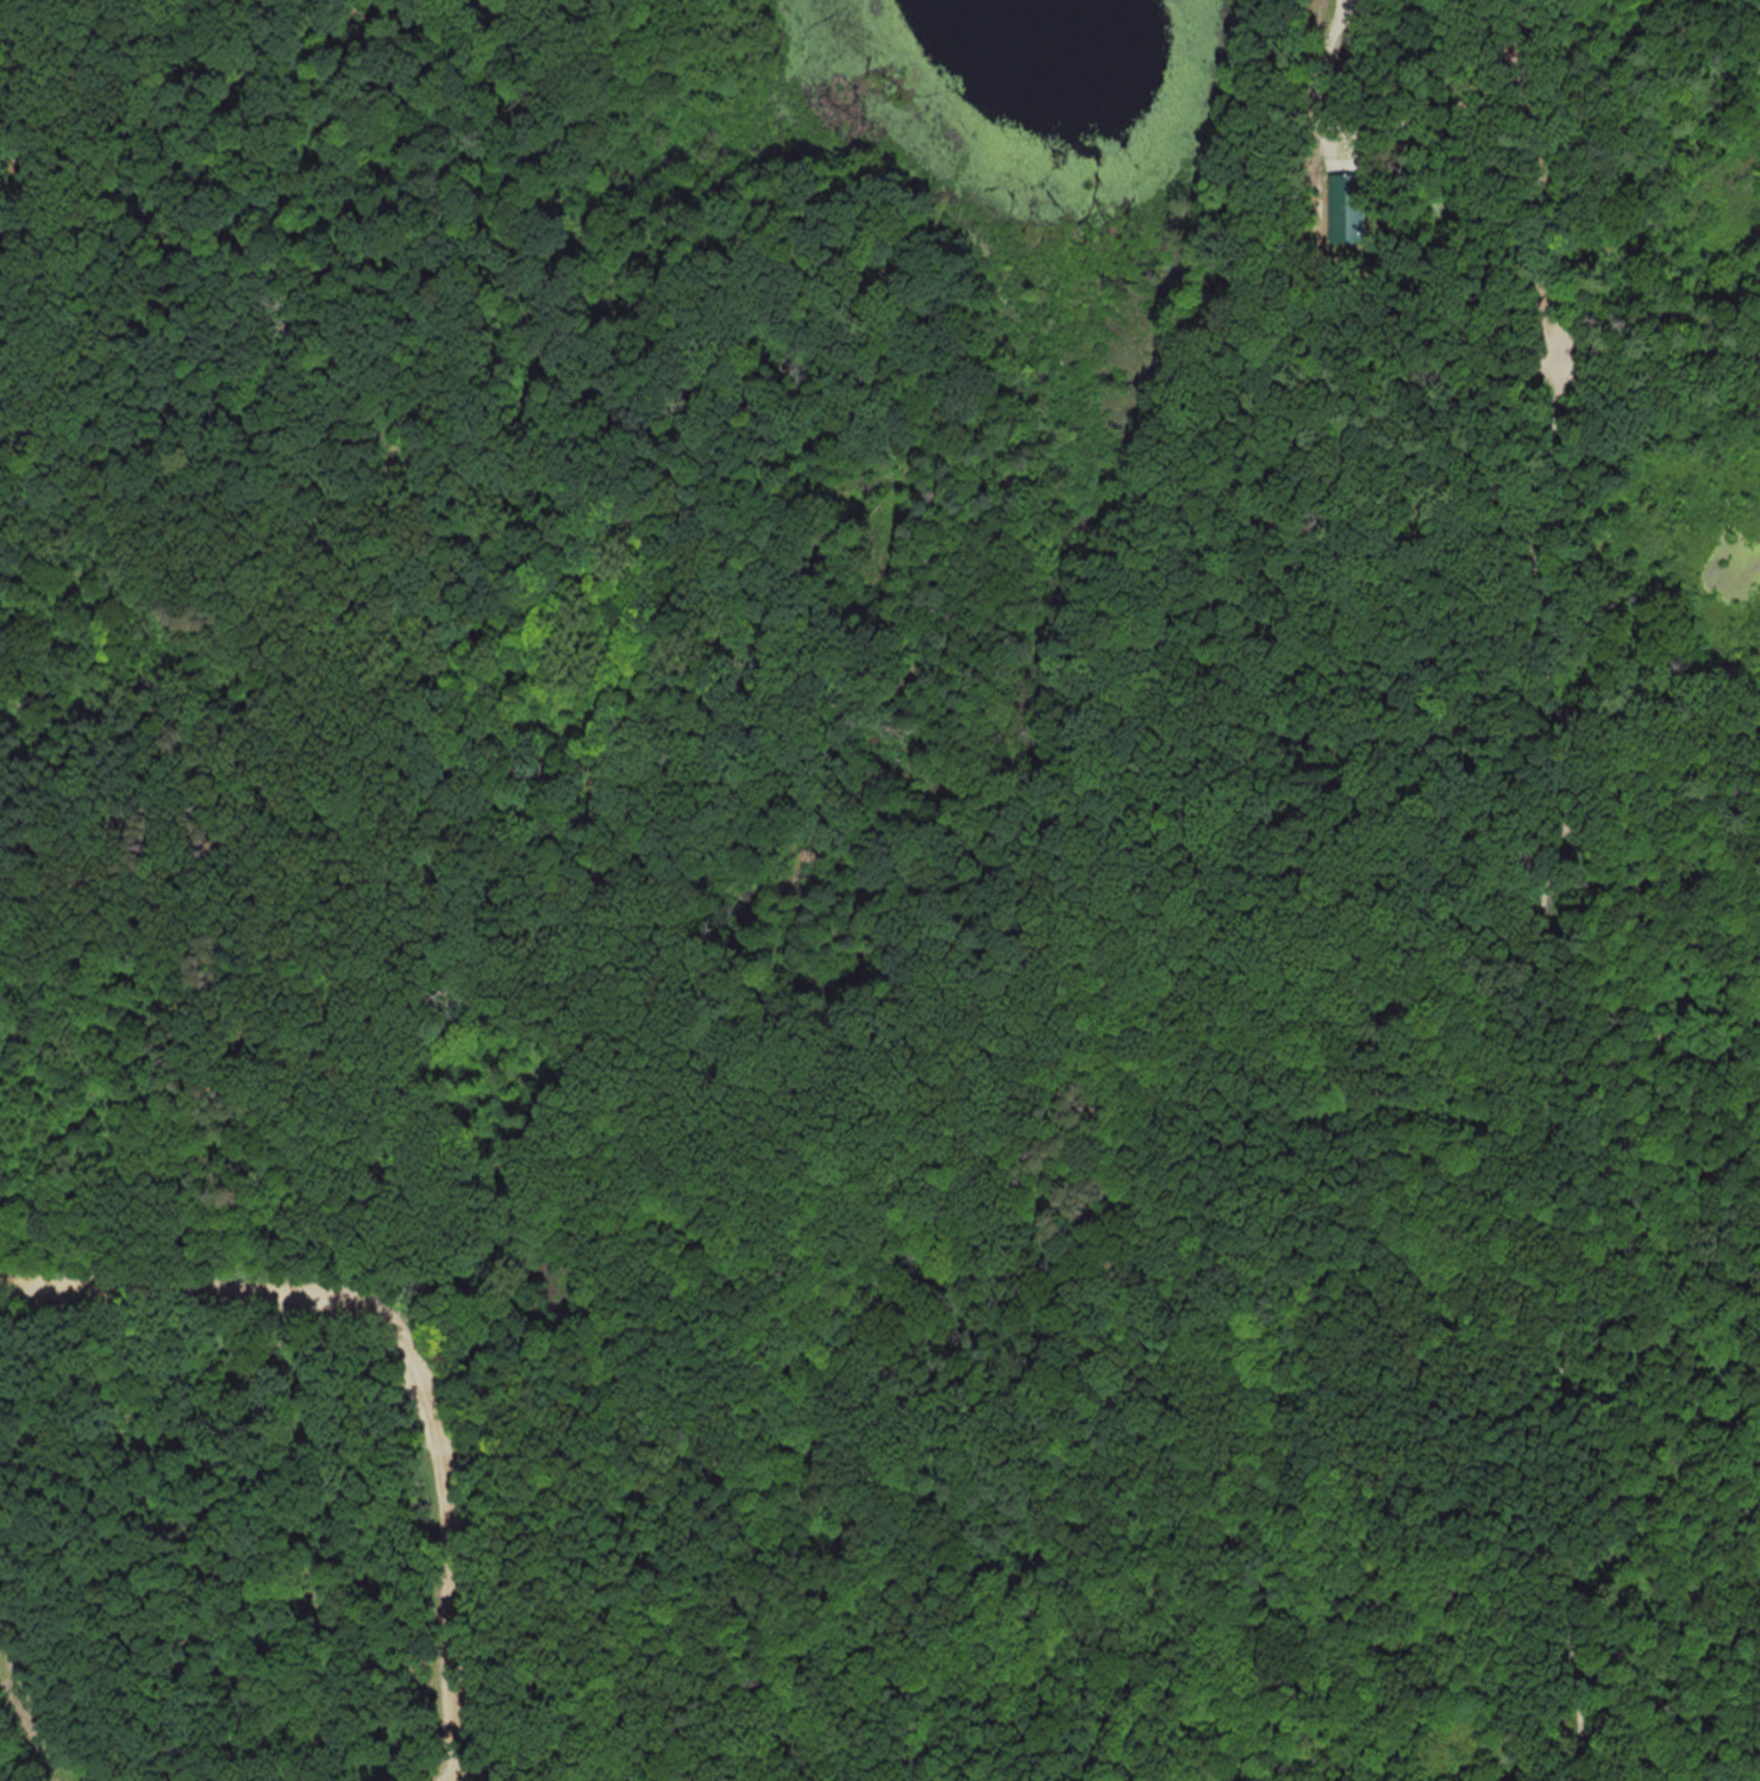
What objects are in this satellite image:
road: (1454, 108)
road: (1656, 357)
road: (514, 494)
road: (1549, 889)
park: (850, 961)
road: (408, 1352)
road: (248, 1496)
road: (328, 1733)
road: (182, 1741)
road: (452, 1773)

